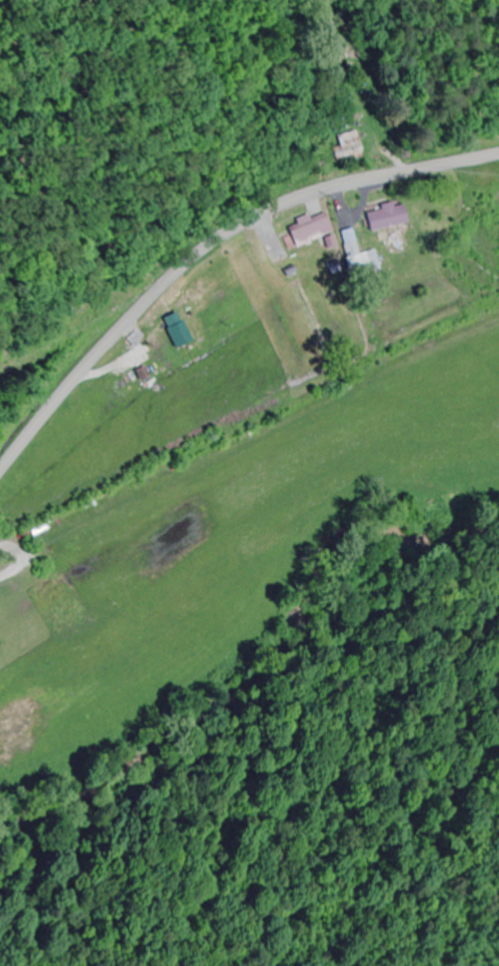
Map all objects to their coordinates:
building: (349, 146)
building: (388, 217)
building: (315, 233)
road: (209, 251)
building: (364, 259)

